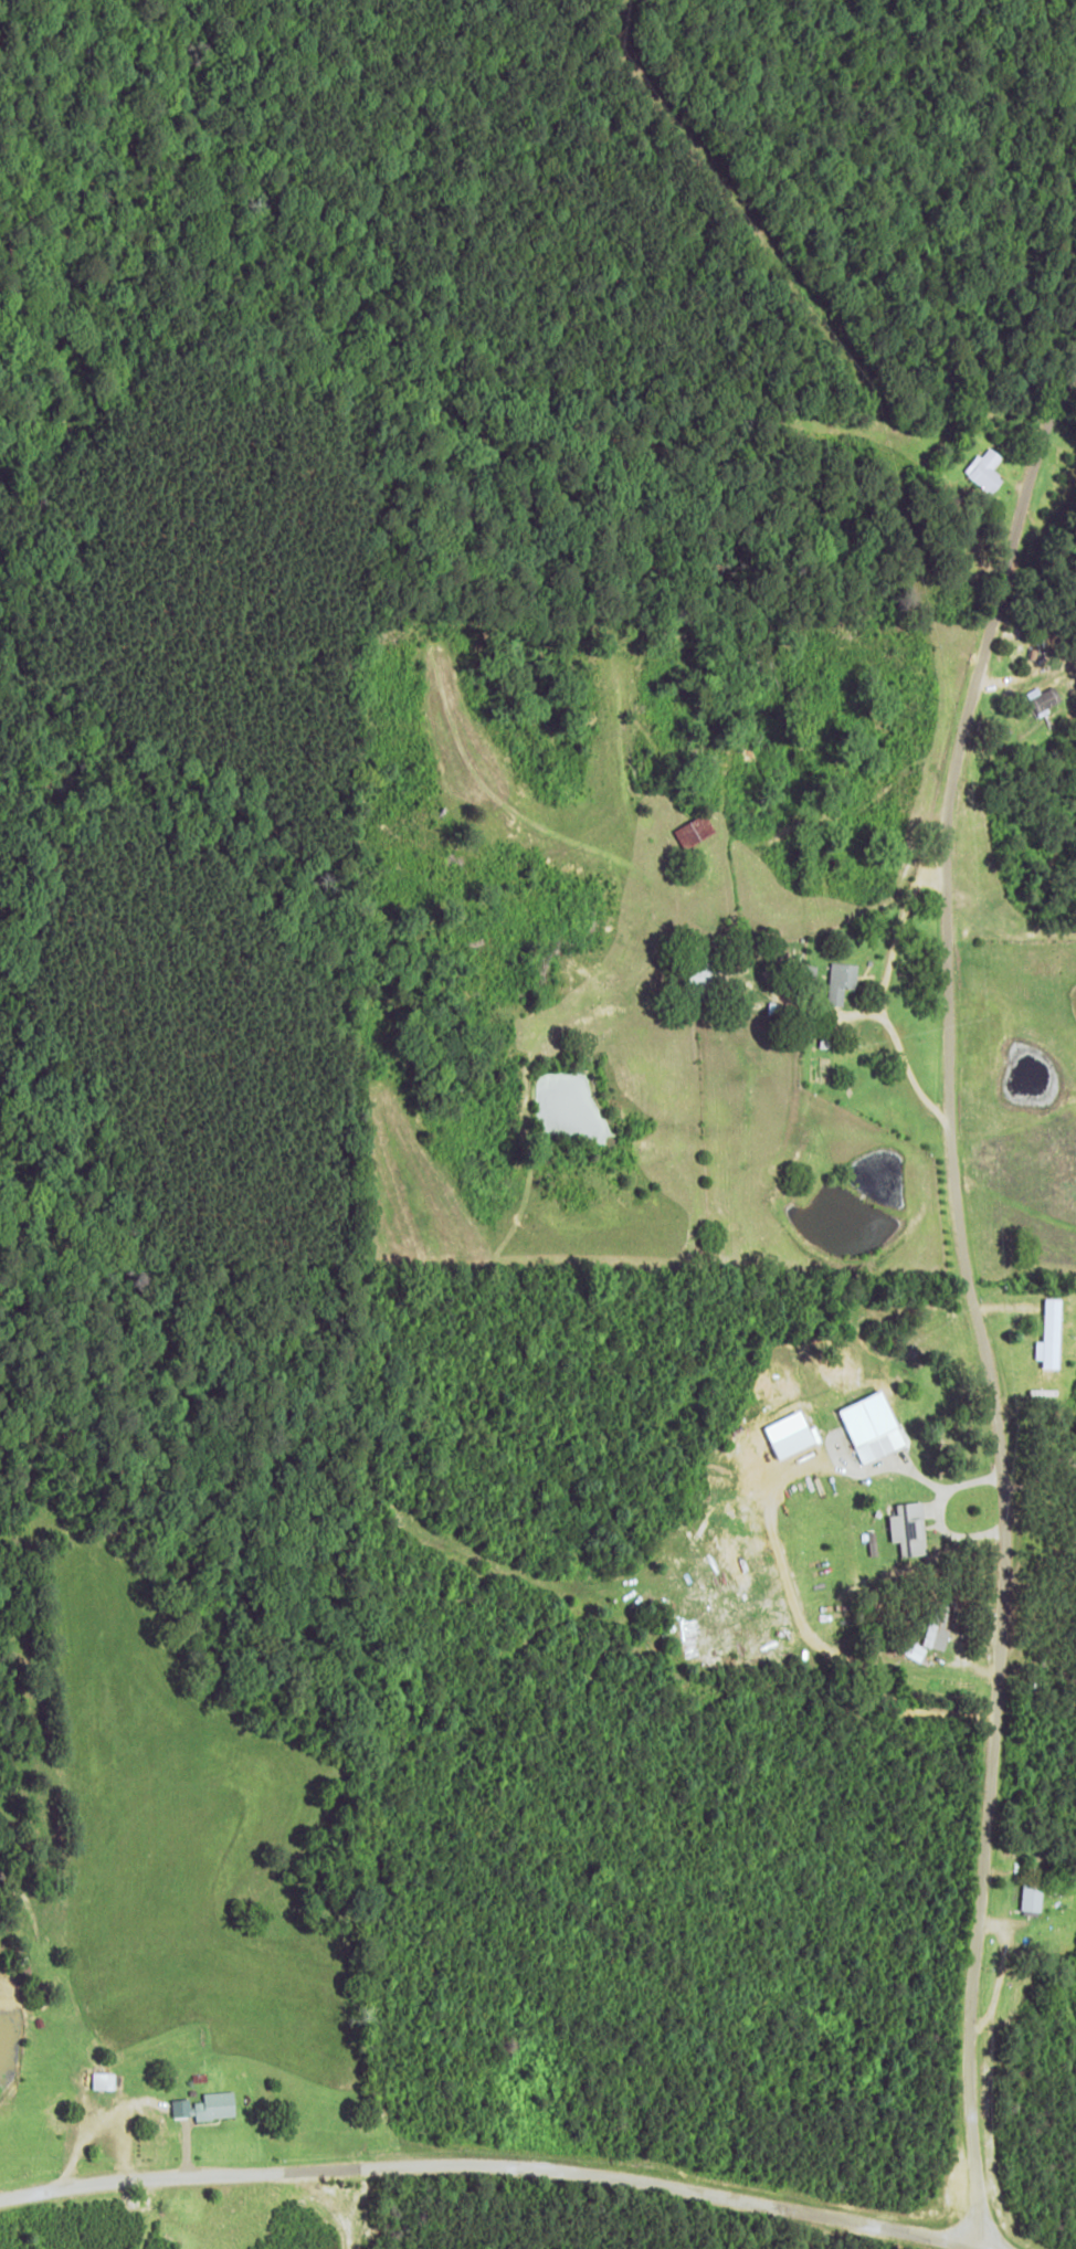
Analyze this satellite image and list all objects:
building: (985, 471)
building: (1043, 698)
building: (842, 981)
road: (979, 1318)
building: (874, 1426)
building: (794, 1440)
building: (909, 1528)
building: (929, 1638)
building: (1032, 1894)
building: (104, 2080)
building: (207, 2105)
road: (494, 2172)

